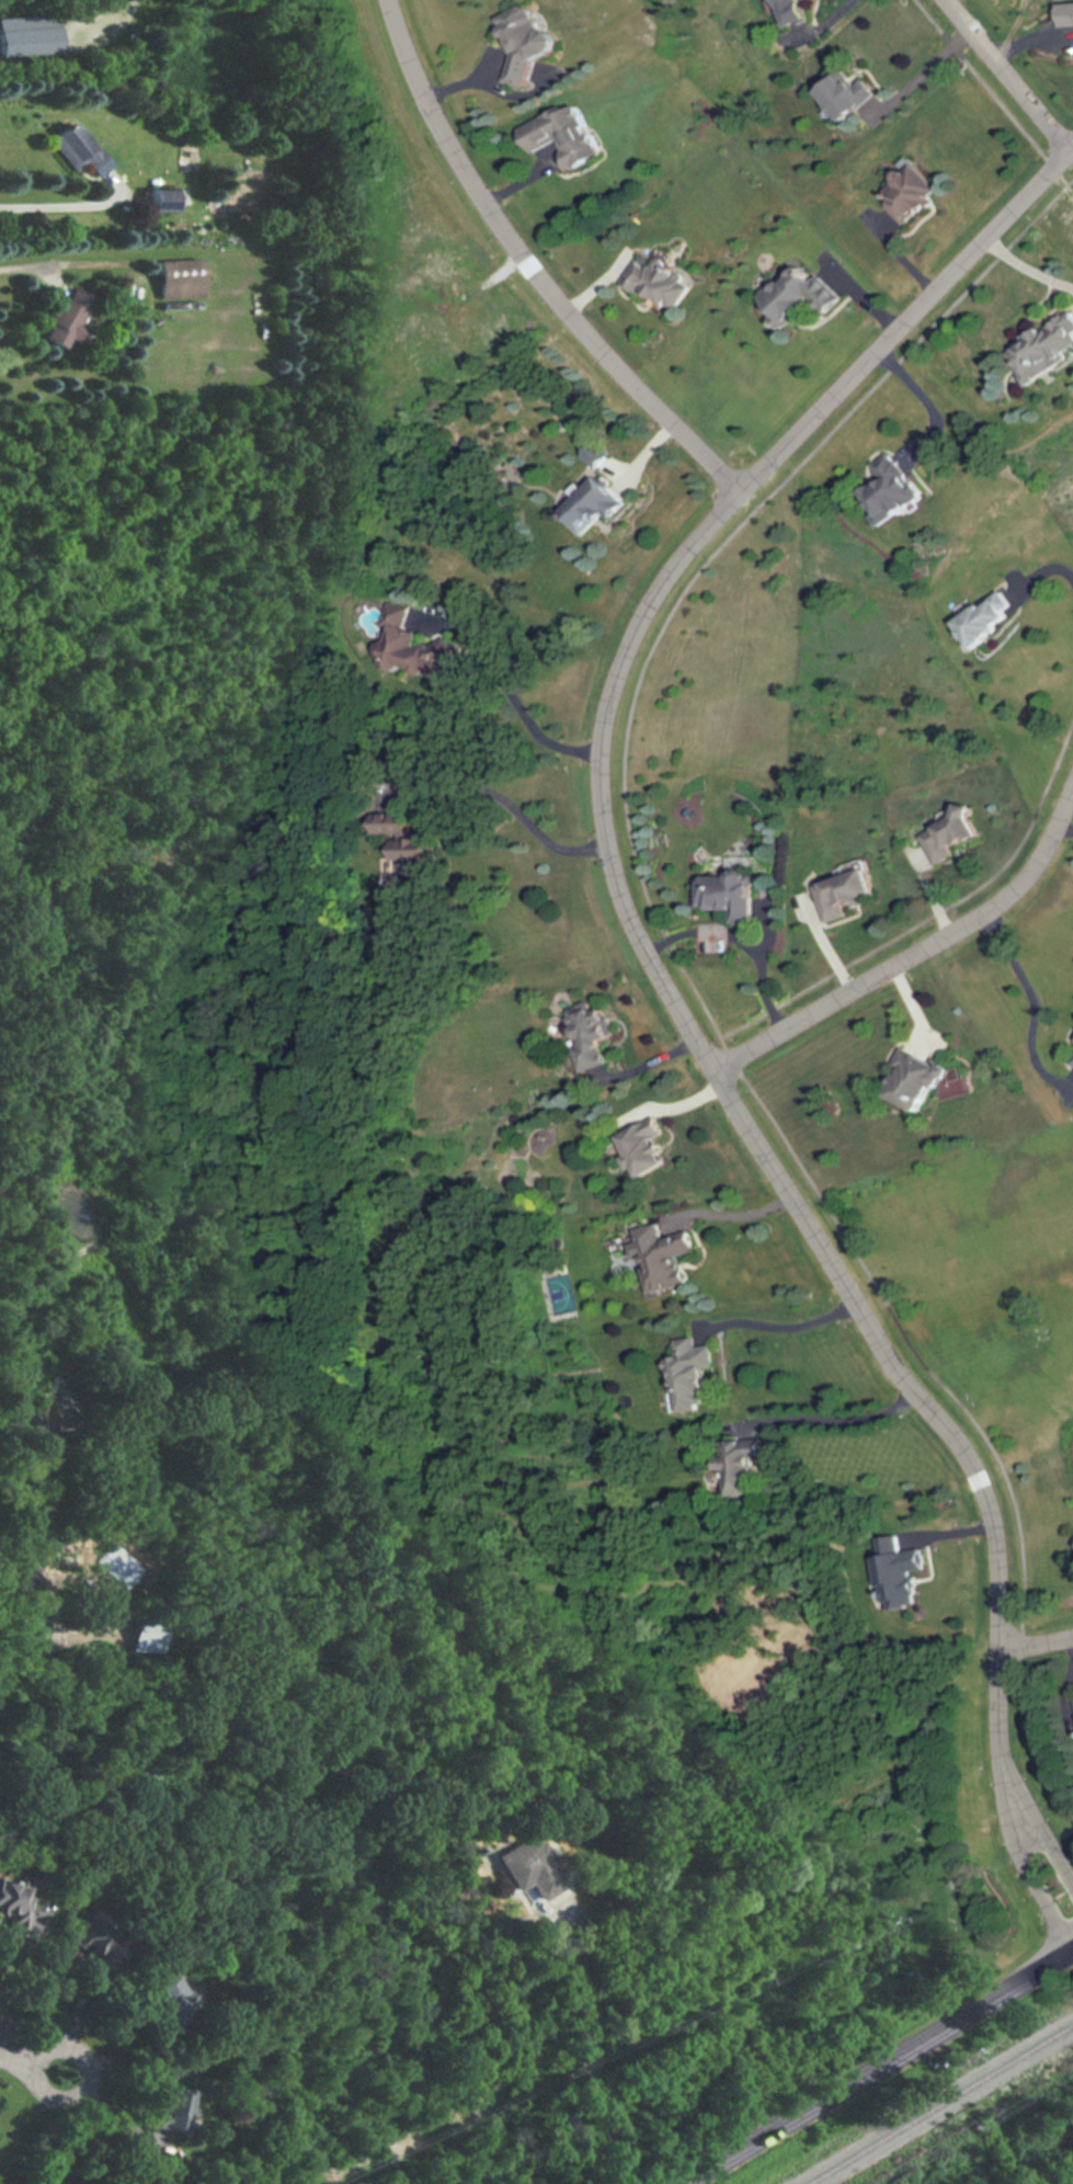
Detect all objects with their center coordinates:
building: (776, 11)
road: (804, 24)
building: (30, 35)
building: (527, 43)
road: (911, 71)
road: (993, 76)
building: (835, 98)
building: (561, 137)
building: (79, 149)
building: (906, 194)
building: (164, 201)
road: (58, 207)
road: (1027, 262)
road: (22, 268)
road: (535, 273)
building: (180, 278)
building: (659, 284)
building: (799, 295)
building: (68, 317)
building: (1043, 352)
road: (928, 397)
building: (600, 454)
building: (892, 490)
building: (596, 504)
road: (693, 564)
road: (1057, 568)
building: (979, 618)
building: (415, 645)
road: (518, 699)
road: (515, 809)
building: (943, 834)
building: (845, 894)
building: (731, 895)
road: (743, 944)
road: (830, 944)
road: (936, 954)
road: (1030, 1006)
building: (590, 1034)
building: (1071, 1058)
building: (913, 1080)
building: (648, 1148)
road: (735, 1210)
building: (672, 1260)
road: (785, 1329)
building: (698, 1375)
road: (838, 1422)
road: (947, 1435)
building: (749, 1469)
road: (47, 1641)
road: (1038, 1642)
road: (1051, 1861)
building: (530, 1868)
road: (1031, 1898)
building: (13, 1903)
road: (571, 1914)
building: (98, 1943)
road: (19, 1989)
building: (170, 1995)
road: (125, 2057)
road: (32, 2062)
road: (879, 2068)
road: (604, 2086)
railway: (940, 2105)

